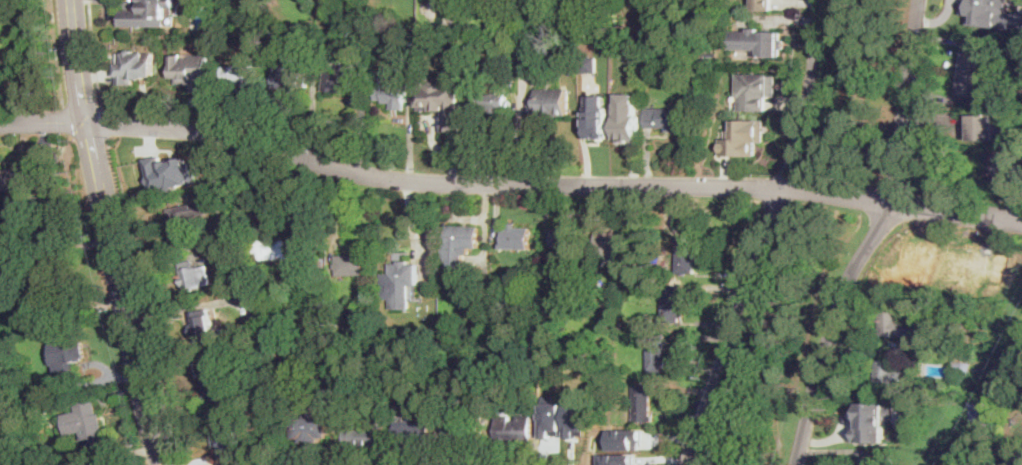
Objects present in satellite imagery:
building: (757, 4)
building: (589, 7)
building: (981, 13)
building: (147, 14)
building: (582, 27)
building: (473, 35)
building: (757, 41)
building: (245, 45)
building: (410, 45)
building: (387, 47)
building: (458, 48)
building: (319, 50)
building: (358, 50)
road: (94, 54)
road: (78, 62)
building: (135, 68)
building: (191, 71)
building: (289, 74)
building: (241, 75)
building: (967, 76)
building: (340, 77)
building: (442, 88)
building: (391, 89)
building: (755, 90)
park: (858, 90)
building: (493, 99)
building: (551, 99)
building: (595, 117)
building: (626, 117)
building: (665, 118)
road: (43, 124)
road: (106, 124)
building: (982, 127)
building: (742, 137)
building: (1000, 169)
building: (169, 172)
building: (19, 185)
road: (552, 185)
building: (187, 223)
road: (844, 232)
road: (766, 235)
building: (566, 236)
building: (463, 237)
building: (516, 237)
road: (873, 237)
building: (609, 240)
building: (281, 250)
building: (686, 254)
building: (321, 262)
building: (350, 265)
building: (964, 270)
building: (902, 271)
building: (45, 274)
building: (194, 276)
building: (401, 284)
building: (247, 287)
road: (124, 295)
road: (143, 303)
building: (672, 304)
building: (353, 313)
building: (202, 324)
building: (900, 325)
building: (296, 333)
park: (781, 340)
building: (286, 342)
building: (916, 344)
building: (71, 348)
building: (656, 353)
building: (960, 368)
building: (224, 374)
building: (889, 375)
building: (282, 387)
building: (644, 402)
building: (872, 421)
building: (87, 425)
building: (312, 429)
building: (415, 430)
building: (465, 430)
building: (515, 430)
building: (562, 436)
building: (364, 437)
building: (228, 439)
building: (625, 439)
building: (628, 453)
building: (617, 459)
building: (878, 459)

